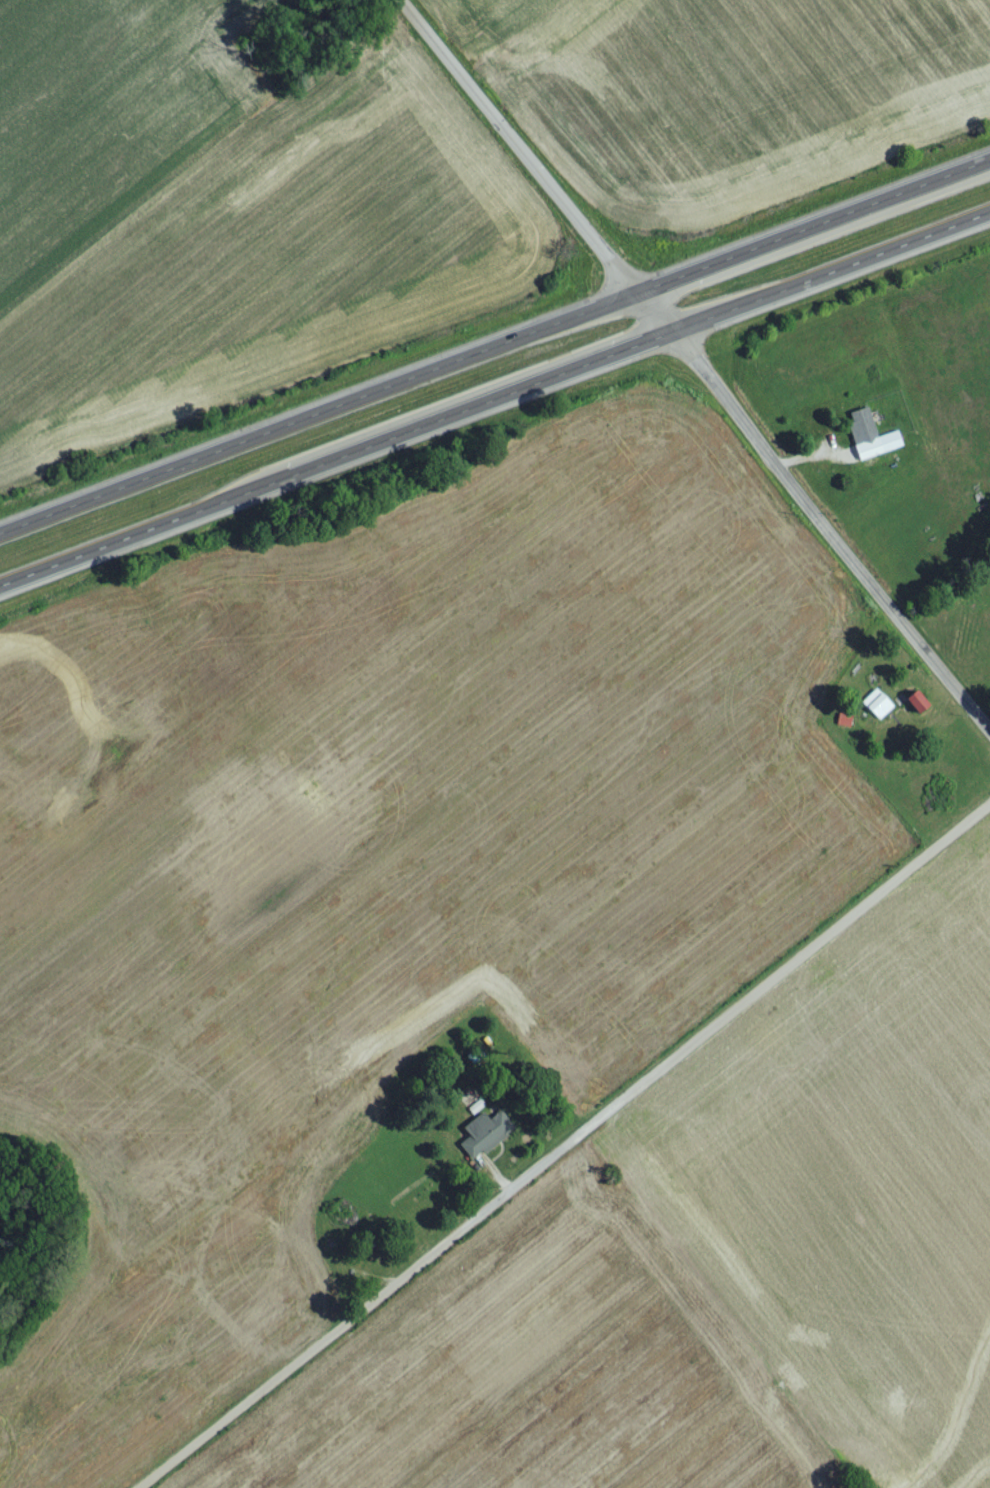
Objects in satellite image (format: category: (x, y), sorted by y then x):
road: (532, 169)
road: (495, 340)
road: (496, 398)
building: (859, 430)
building: (887, 448)
road: (830, 537)
building: (907, 704)
road: (568, 1148)

